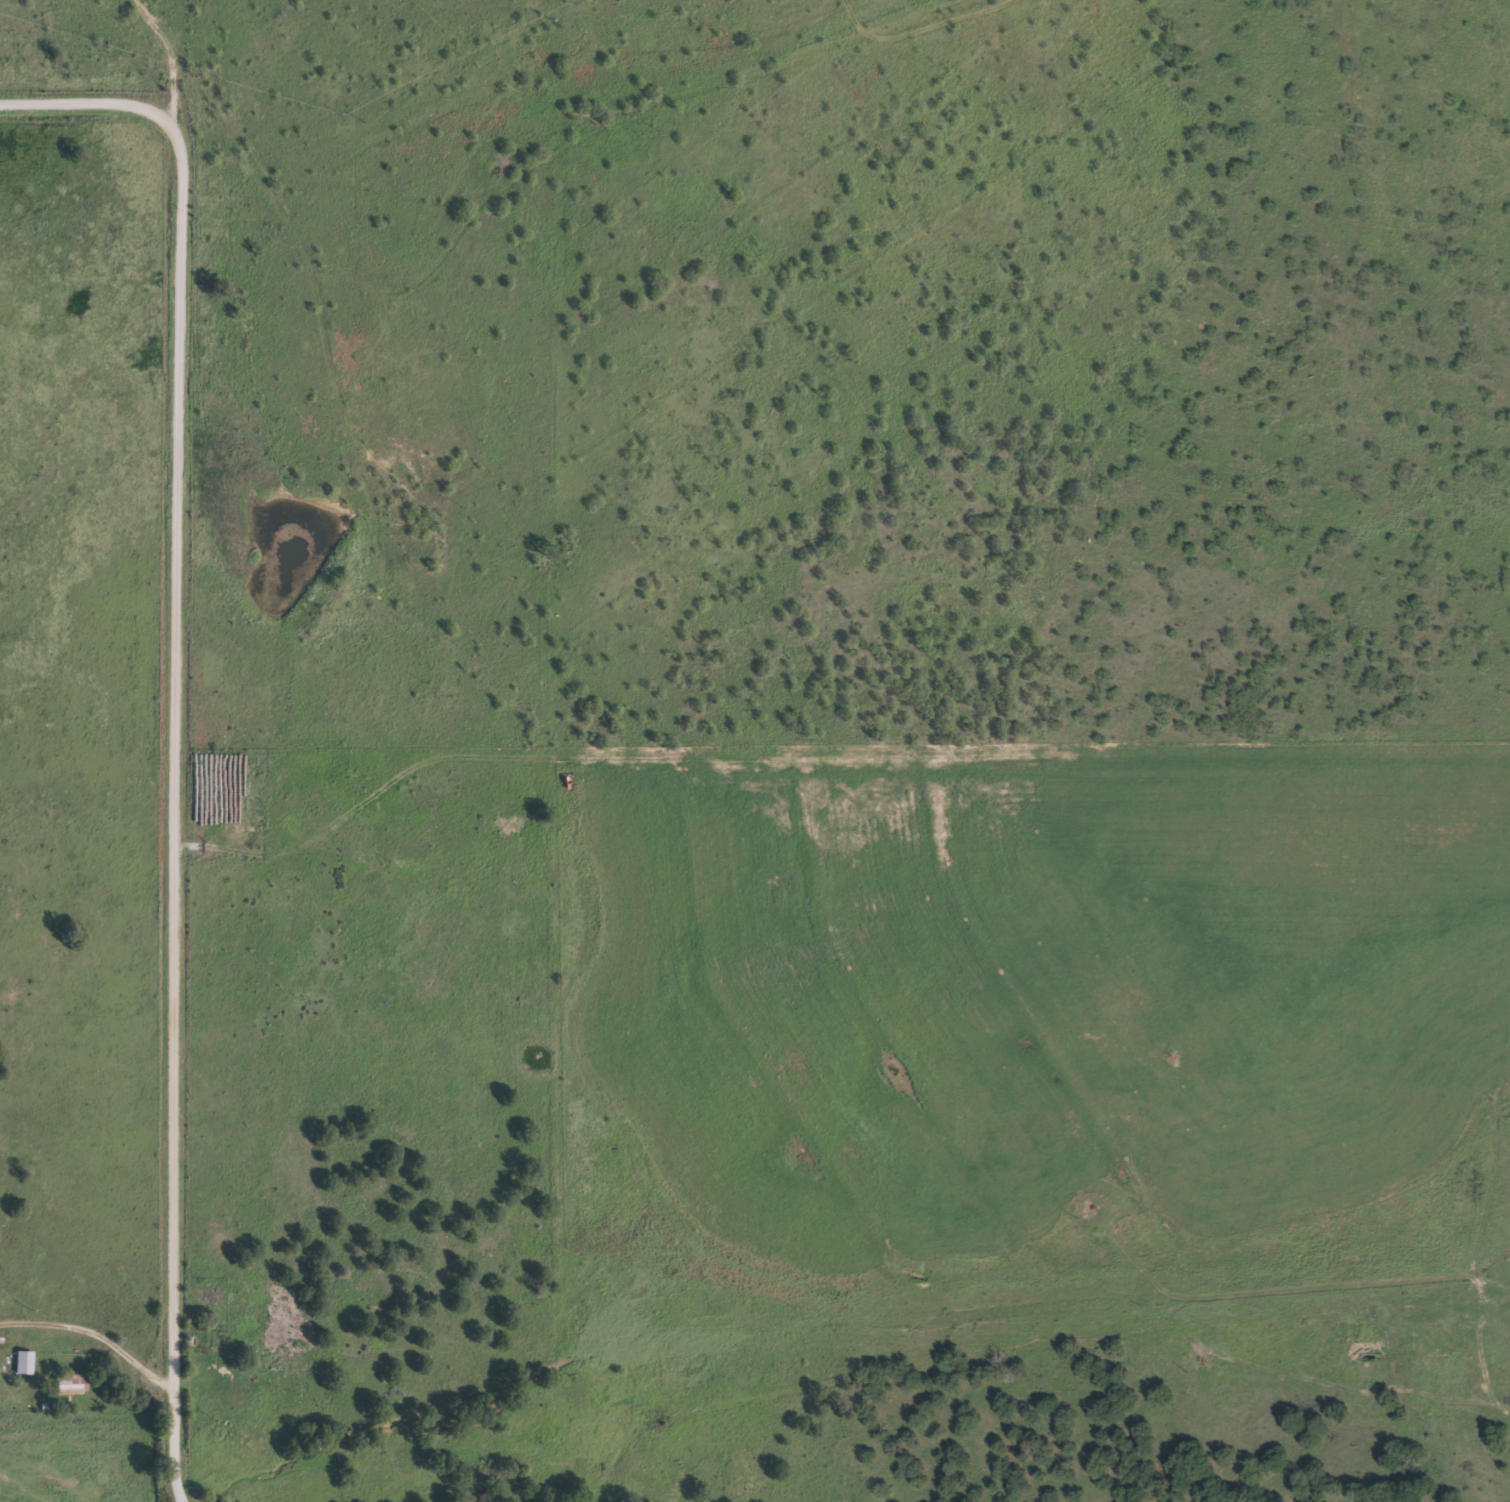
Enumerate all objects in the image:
road: (97, 107)
road: (178, 824)
building: (21, 1362)
building: (68, 1384)

